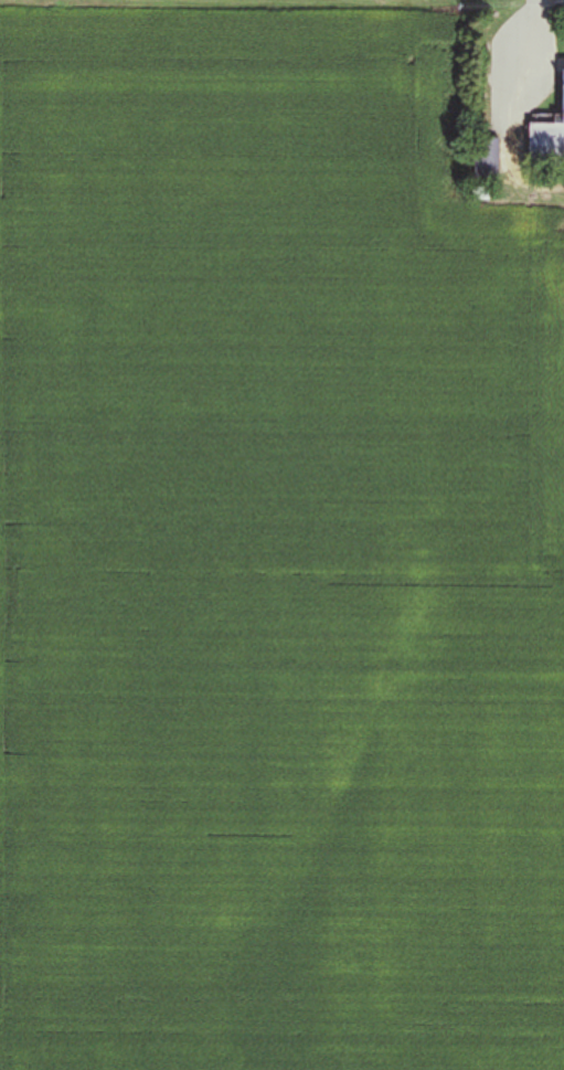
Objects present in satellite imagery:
building: (547, 134)
building: (486, 158)

